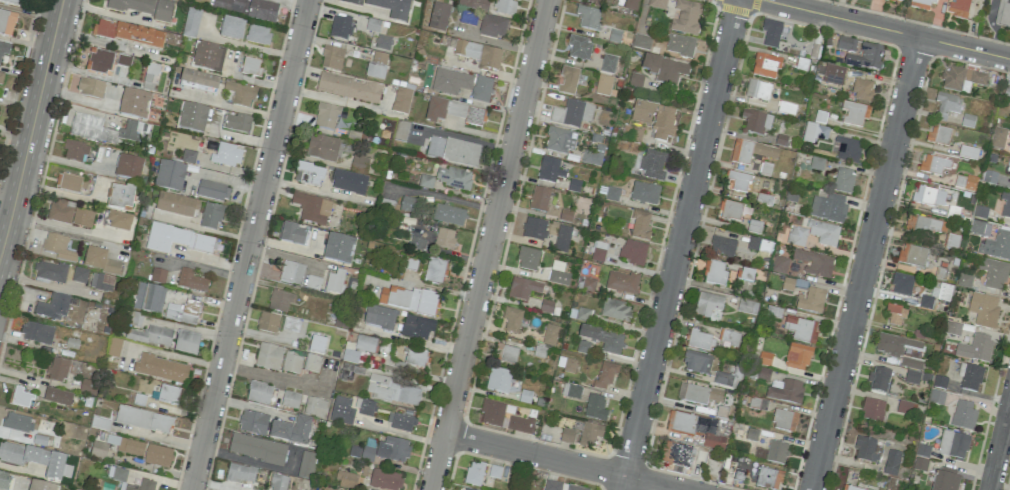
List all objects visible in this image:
building: (895, 1)
building: (12, 2)
building: (351, 2)
building: (596, 2)
building: (474, 4)
building: (657, 4)
building: (631, 5)
building: (504, 7)
building: (144, 8)
building: (248, 8)
building: (392, 8)
building: (959, 8)
building: (1004, 16)
building: (438, 17)
building: (686, 17)
building: (588, 18)
building: (7, 23)
building: (191, 23)
building: (492, 26)
building: (340, 27)
building: (231, 28)
road: (885, 29)
building: (771, 33)
building: (128, 34)
building: (258, 34)
building: (383, 42)
building: (641, 42)
building: (846, 44)
building: (680, 46)
building: (579, 48)
building: (4, 49)
building: (480, 54)
building: (207, 57)
building: (866, 57)
building: (332, 58)
building: (123, 60)
building: (99, 61)
building: (608, 63)
building: (376, 65)
building: (250, 66)
building: (765, 66)
building: (664, 69)
building: (833, 74)
building: (1, 78)
building: (961, 78)
building: (568, 80)
building: (636, 80)
building: (199, 81)
building: (450, 81)
building: (603, 85)
building: (91, 87)
building: (348, 88)
building: (482, 89)
building: (758, 90)
building: (863, 90)
building: (241, 94)
building: (401, 100)
building: (134, 104)
road: (230, 105)
building: (947, 105)
road: (36, 107)
building: (436, 109)
building: (854, 113)
building: (468, 114)
building: (572, 114)
building: (326, 116)
building: (192, 118)
building: (655, 118)
building: (757, 122)
building: (236, 123)
building: (110, 130)
building: (814, 133)
building: (631, 134)
building: (939, 135)
building: (998, 138)
building: (561, 140)
building: (322, 148)
building: (847, 149)
building: (75, 150)
building: (453, 151)
building: (751, 152)
building: (968, 152)
building: (227, 155)
building: (188, 156)
building: (593, 156)
building: (652, 163)
building: (816, 163)
building: (359, 164)
building: (933, 164)
building: (129, 167)
building: (549, 170)
building: (170, 176)
building: (453, 178)
building: (738, 180)
building: (843, 180)
building: (965, 182)
building: (69, 183)
building: (348, 183)
building: (1009, 184)
building: (213, 191)
road: (66, 192)
building: (645, 193)
building: (612, 194)
building: (929, 196)
building: (121, 197)
building: (539, 199)
building: (409, 204)
building: (176, 205)
building: (582, 205)
building: (1005, 205)
building: (828, 207)
building: (312, 208)
building: (60, 212)
building: (731, 212)
building: (980, 213)
building: (448, 215)
building: (210, 216)
building: (82, 218)
building: (119, 221)
building: (640, 225)
building: (923, 225)
road: (69, 227)
building: (534, 229)
road: (209, 230)
road: (5, 232)
building: (823, 233)
building: (292, 234)
building: (797, 236)
building: (177, 239)
building: (444, 239)
building: (562, 239)
building: (416, 243)
building: (757, 243)
road: (493, 244)
road: (678, 244)
road: (254, 245)
building: (722, 246)
building: (997, 246)
building: (58, 247)
building: (338, 248)
building: (599, 252)
building: (634, 252)
building: (912, 255)
building: (528, 259)
building: (100, 261)
building: (814, 263)
building: (780, 264)
road: (865, 264)
building: (434, 271)
building: (51, 272)
building: (291, 272)
building: (715, 273)
building: (994, 273)
building: (558, 274)
building: (79, 275)
building: (157, 276)
building: (964, 280)
building: (191, 281)
building: (101, 282)
building: (313, 282)
building: (334, 282)
building: (622, 282)
building: (588, 284)
building: (788, 284)
building: (902, 284)
building: (523, 289)
building: (944, 291)
building: (148, 298)
building: (409, 299)
building: (811, 300)
building: (279, 301)
building: (926, 302)
building: (707, 304)
building: (546, 306)
building: (747, 306)
building: (52, 307)
building: (192, 308)
building: (615, 310)
building: (983, 310)
building: (176, 313)
building: (895, 314)
building: (582, 315)
building: (379, 318)
building: (135, 319)
building: (512, 319)
building: (267, 322)
building: (416, 327)
building: (801, 329)
building: (953, 329)
building: (37, 333)
building: (549, 334)
building: (154, 336)
building: (603, 339)
building: (730, 339)
building: (699, 340)
building: (186, 343)
road: (418, 343)
building: (317, 344)
building: (896, 345)
building: (114, 347)
building: (582, 347)
building: (358, 348)
building: (975, 348)
building: (506, 354)
building: (268, 356)
building: (797, 357)
building: (416, 358)
building: (765, 358)
building: (697, 362)
building: (292, 363)
building: (312, 363)
building: (912, 363)
building: (569, 365)
building: (161, 368)
building: (57, 369)
building: (764, 373)
building: (605, 376)
building: (912, 377)
building: (971, 378)
road: (274, 379)
building: (723, 379)
building: (879, 379)
building: (498, 380)
building: (939, 382)
building: (88, 387)
building: (391, 390)
building: (571, 391)
building: (786, 392)
building: (259, 393)
building: (168, 394)
building: (698, 394)
building: (57, 396)
building: (936, 397)
building: (21, 398)
building: (290, 400)
building: (315, 407)
building: (366, 408)
building: (595, 408)
building: (903, 408)
building: (873, 409)
building: (342, 411)
building: (491, 413)
building: (963, 415)
building: (143, 419)
building: (784, 420)
building: (16, 422)
building: (401, 422)
building: (253, 423)
building: (520, 424)
building: (697, 428)
building: (292, 431)
building: (590, 434)
road: (405, 435)
building: (567, 436)
road: (160, 438)
building: (953, 444)
building: (131, 447)
road: (999, 448)
building: (257, 449)
building: (393, 449)
building: (865, 449)
building: (98, 450)
building: (777, 452)
building: (367, 454)
building: (157, 455)
building: (677, 455)
building: (921, 458)
building: (36, 459)
road: (562, 462)
building: (892, 462)
building: (306, 464)
building: (494, 472)
building: (240, 473)
building: (474, 473)
building: (119, 474)
building: (769, 478)
building: (346, 480)
building: (385, 480)
building: (945, 481)
building: (279, 482)
building: (143, 485)
building: (41, 486)
building: (561, 486)
building: (850, 488)
building: (464, 489)

